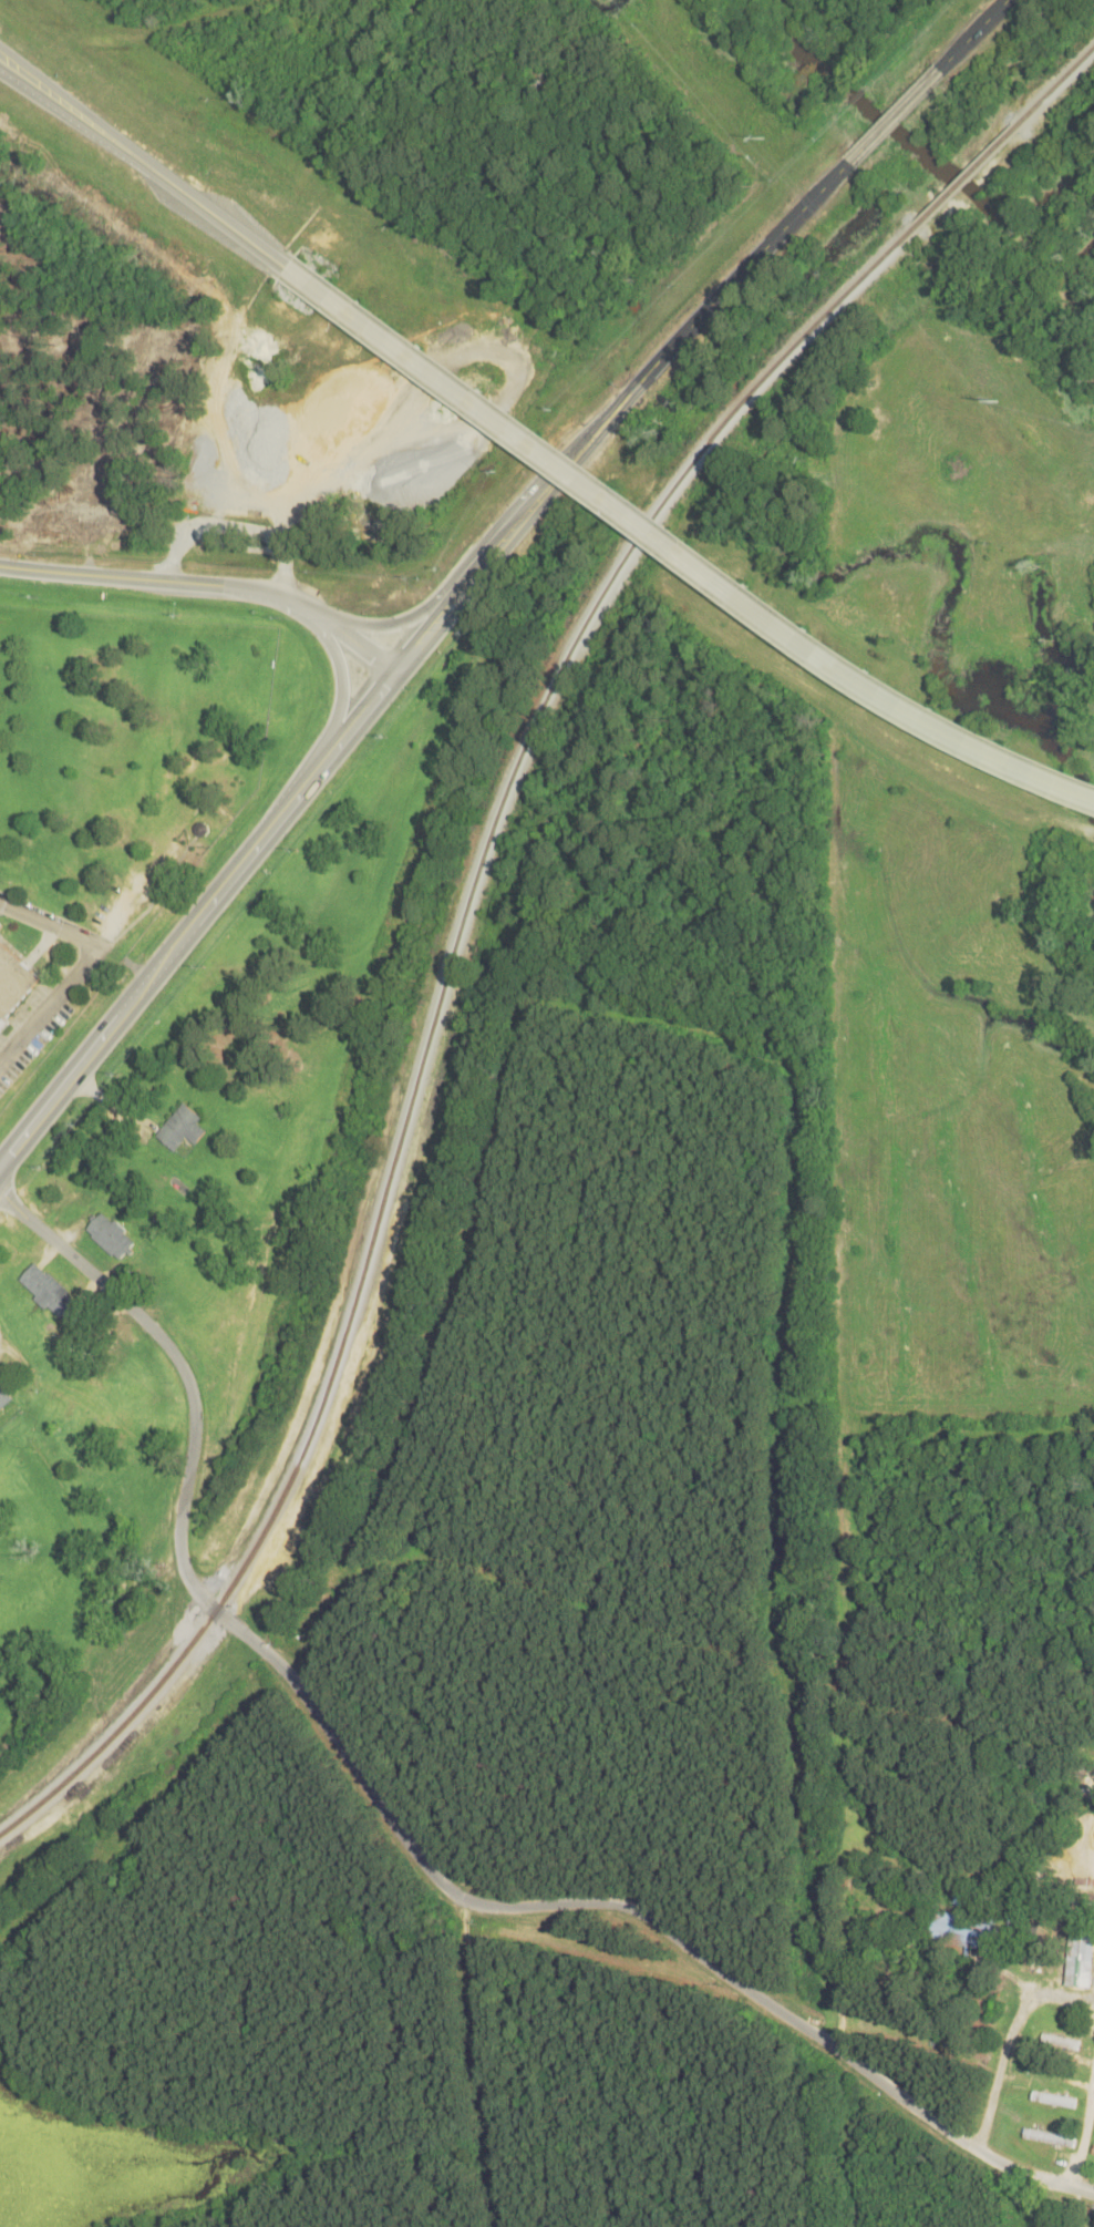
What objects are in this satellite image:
road: (970, 33)
railway: (1055, 89)
road: (892, 114)
power tower: (765, 137)
river: (923, 148)
road: (145, 161)
railway: (967, 176)
river: (1073, 267)
power tower: (999, 402)
road: (612, 409)
road: (681, 550)
road: (211, 579)
road: (391, 620)
road: (340, 680)
road: (296, 797)
road: (49, 924)
building: (0, 925)
building: (12, 983)
road: (49, 1004)
railway: (435, 1019)
road: (97, 1044)
building: (182, 1127)
building: (111, 1235)
building: (50, 1292)
building: (3, 1396)
road: (290, 1674)
building: (1085, 1902)
building: (1080, 1958)
road: (785, 2011)
building: (1060, 2042)
road: (1015, 2052)
building: (1053, 2100)
building: (1050, 2138)
building: (1093, 2152)
road: (1086, 2159)

